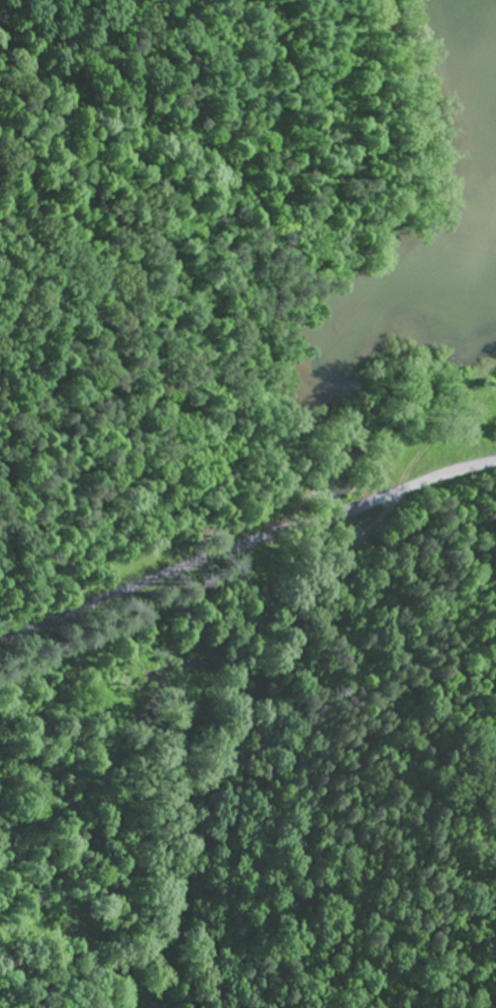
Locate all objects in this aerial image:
park: (187, 216)
road: (246, 545)

